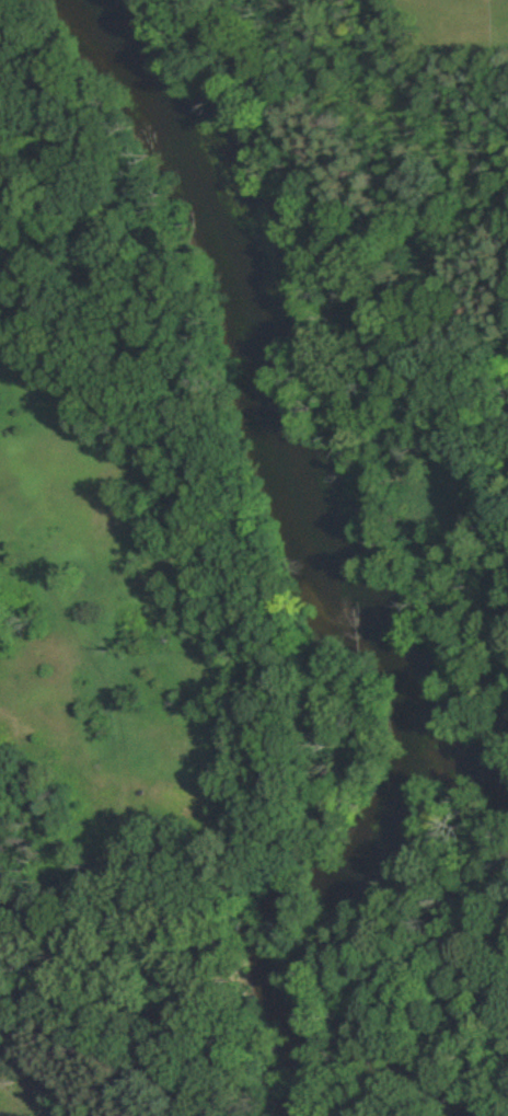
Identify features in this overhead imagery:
river: (300, 474)
river: (290, 1026)

